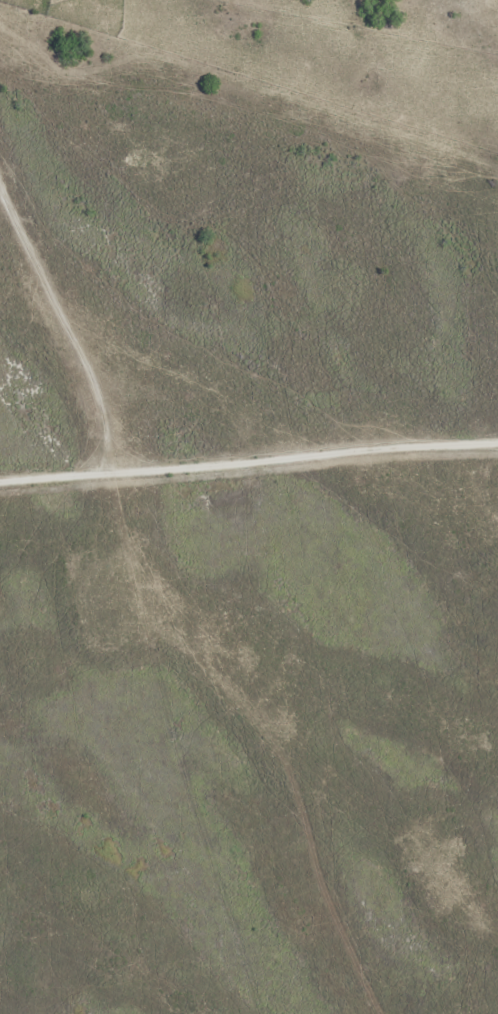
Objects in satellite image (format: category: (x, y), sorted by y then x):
road: (71, 305)
road: (248, 460)

